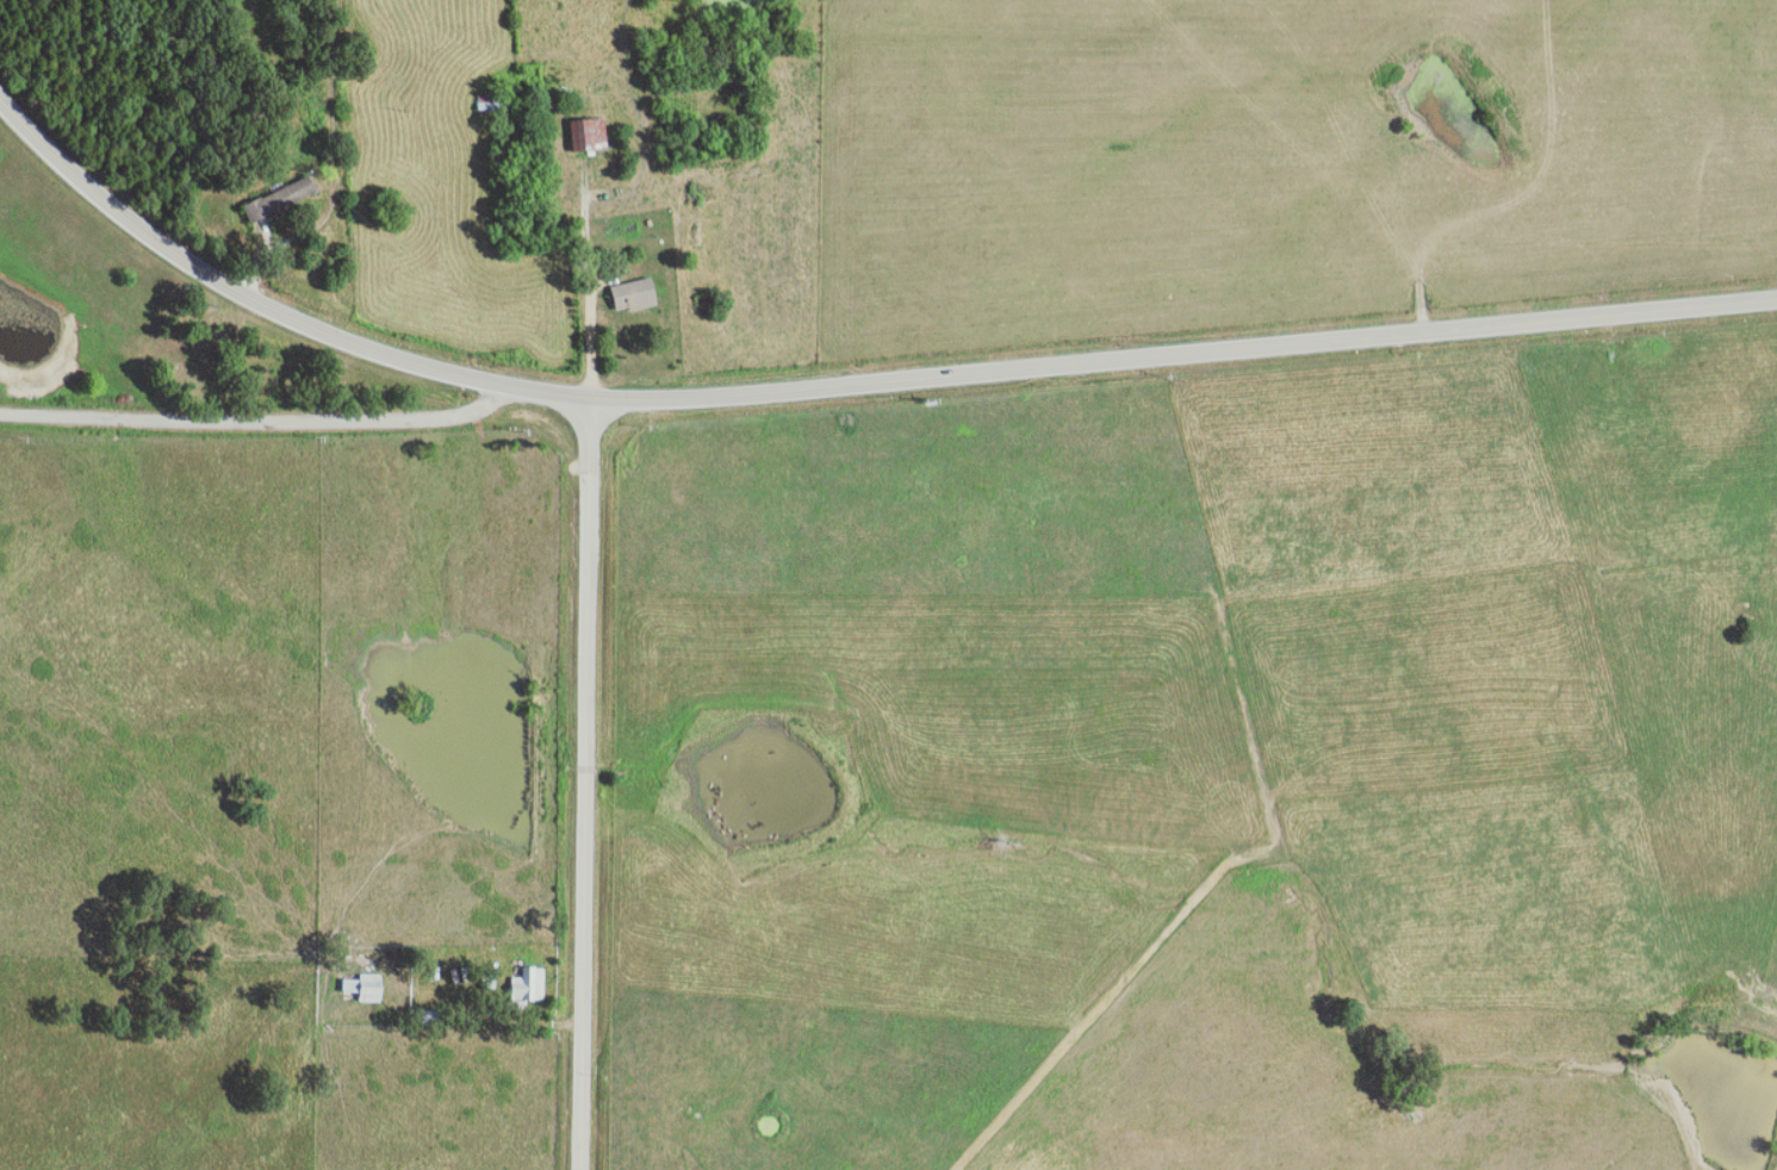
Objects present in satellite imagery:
building: (490, 102)
building: (588, 133)
road: (333, 172)
building: (279, 199)
building: (634, 294)
road: (586, 301)
road: (840, 388)
road: (259, 416)
road: (590, 790)
road: (1199, 896)
building: (528, 984)
building: (365, 987)

